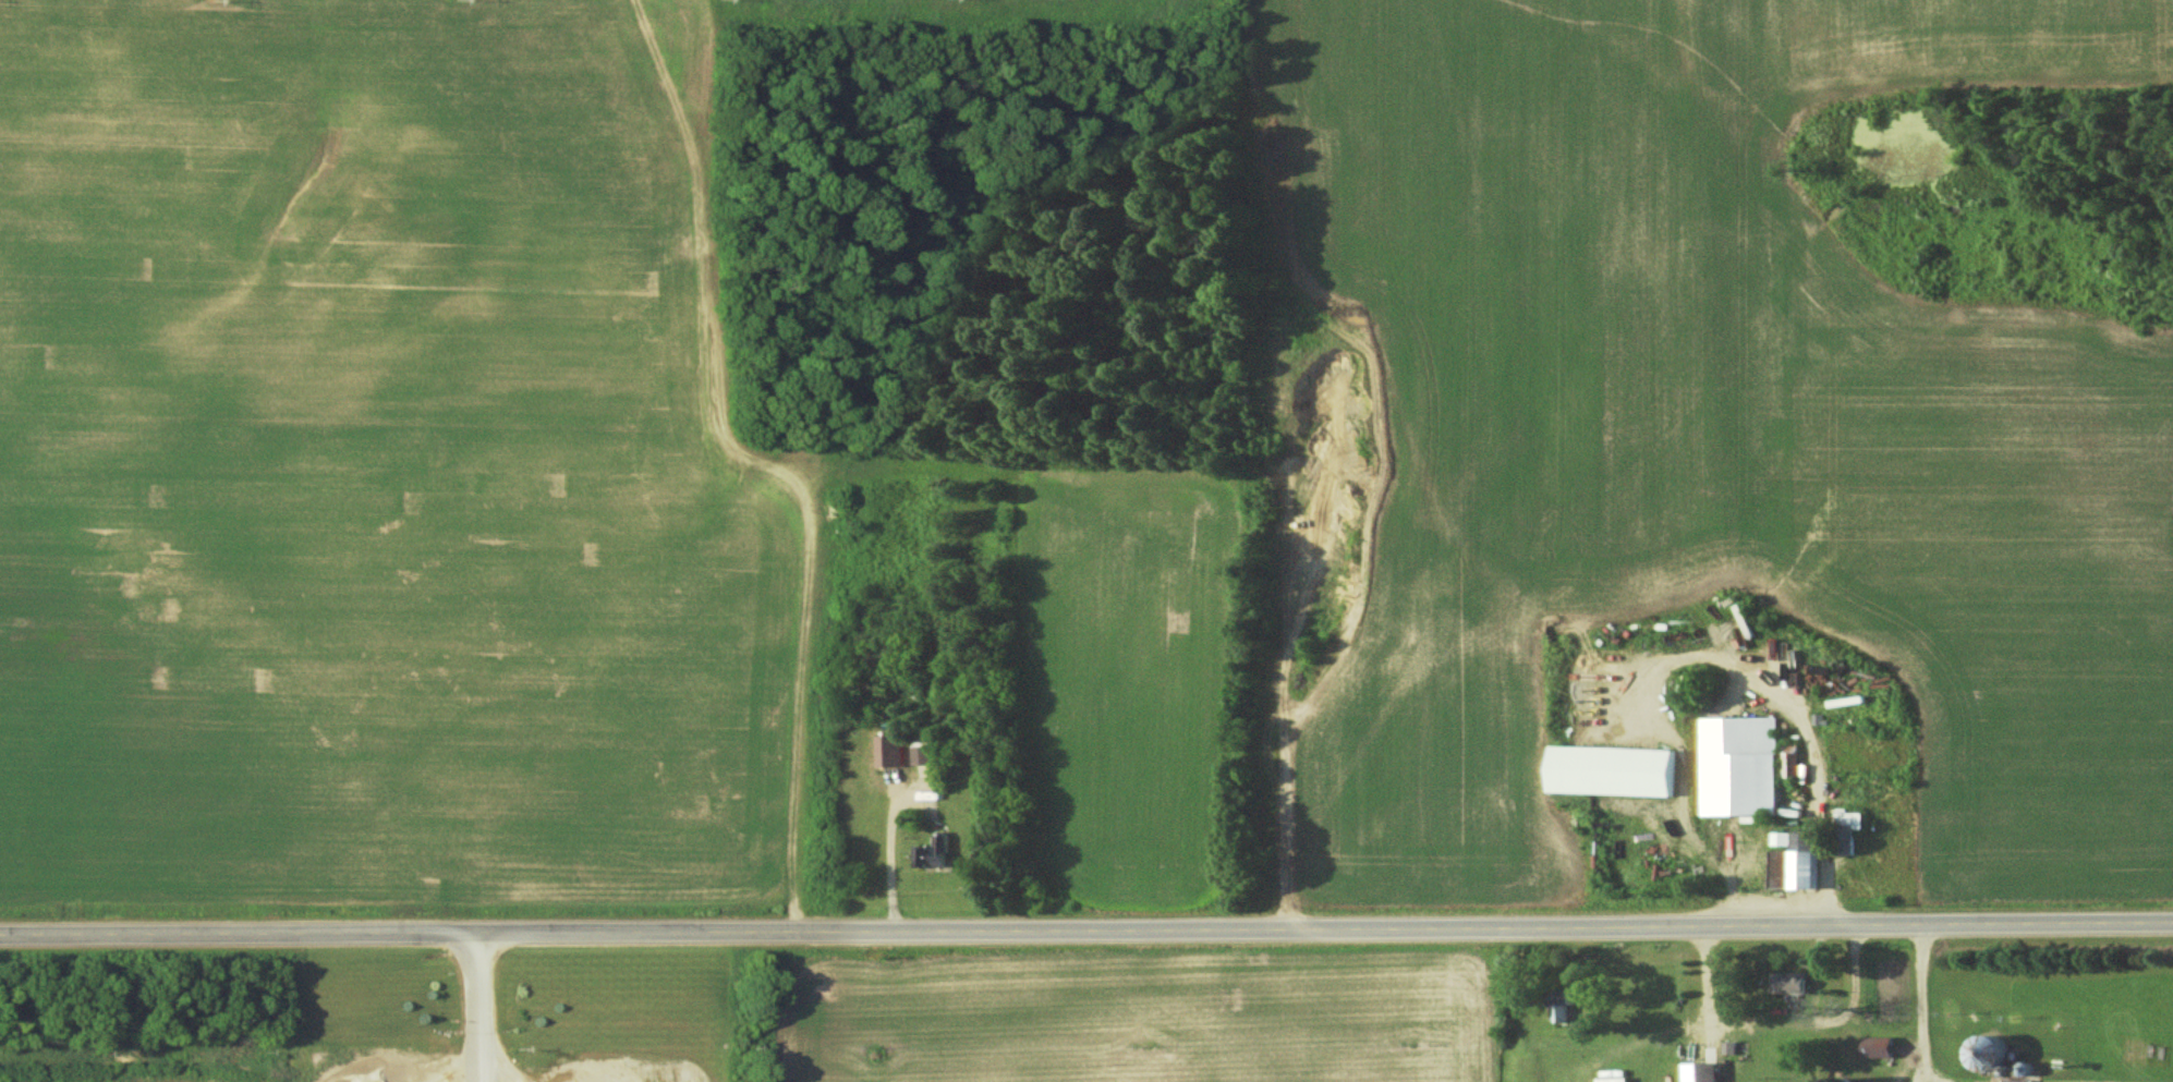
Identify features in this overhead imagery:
building: (889, 750)
building: (924, 754)
building: (1788, 764)
building: (1739, 765)
building: (1615, 770)
building: (1853, 824)
building: (1781, 838)
building: (933, 852)
road: (890, 854)
building: (1797, 863)
road: (1086, 929)
building: (1790, 982)
road: (1922, 1005)
road: (469, 1008)
building: (1881, 1046)
building: (1998, 1053)
building: (1703, 1072)
road: (1926, 1079)

